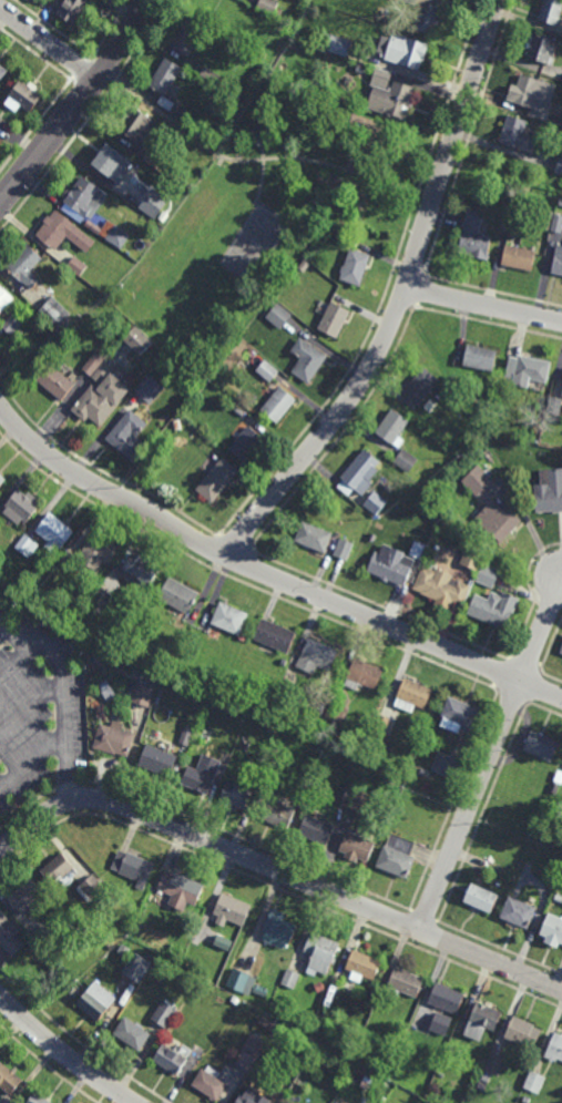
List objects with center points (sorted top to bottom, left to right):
building: (409, 1)
building: (270, 8)
building: (76, 9)
building: (551, 12)
building: (427, 18)
building: (188, 38)
road: (49, 44)
building: (340, 45)
building: (542, 50)
building: (402, 51)
building: (361, 69)
building: (211, 75)
building: (4, 76)
road: (109, 76)
building: (165, 76)
building: (380, 79)
building: (527, 91)
building: (27, 95)
road: (449, 95)
building: (399, 101)
road: (79, 105)
building: (181, 113)
building: (1, 120)
building: (137, 127)
building: (519, 134)
building: (259, 136)
road: (256, 159)
building: (152, 161)
building: (111, 164)
building: (559, 166)
park: (508, 167)
road: (263, 174)
park: (257, 190)
road: (427, 193)
building: (84, 197)
building: (560, 202)
building: (154, 204)
building: (549, 215)
building: (558, 224)
building: (546, 225)
building: (62, 233)
building: (117, 237)
building: (474, 237)
building: (346, 241)
park: (254, 244)
building: (519, 258)
building: (558, 263)
building: (23, 265)
building: (76, 267)
building: (356, 267)
road: (402, 299)
road: (484, 305)
building: (8, 313)
building: (54, 315)
building: (279, 316)
building: (334, 321)
building: (137, 343)
building: (252, 354)
building: (480, 358)
building: (307, 360)
building: (94, 364)
building: (167, 369)
building: (527, 370)
building: (267, 371)
building: (54, 381)
building: (420, 385)
building: (150, 388)
building: (101, 399)
building: (474, 400)
building: (278, 404)
building: (553, 405)
building: (239, 411)
building: (392, 428)
building: (127, 433)
building: (198, 438)
building: (246, 443)
building: (405, 460)
building: (359, 473)
building: (2, 478)
building: (216, 479)
building: (478, 479)
building: (549, 490)
building: (376, 502)
building: (21, 505)
building: (495, 519)
building: (428, 528)
building: (54, 531)
building: (314, 537)
building: (25, 547)
building: (344, 549)
building: (98, 551)
building: (419, 551)
building: (472, 558)
building: (69, 562)
building: (391, 564)
building: (139, 569)
building: (489, 572)
road: (266, 575)
building: (440, 585)
building: (84, 593)
building: (178, 595)
building: (99, 600)
building: (493, 609)
building: (231, 619)
building: (275, 635)
building: (561, 651)
road: (14, 656)
building: (175, 656)
building: (316, 656)
building: (366, 674)
building: (110, 694)
building: (143, 694)
building: (412, 695)
road: (63, 696)
road: (30, 705)
building: (319, 708)
building: (337, 713)
building: (458, 715)
building: (381, 725)
building: (273, 731)
building: (187, 734)
building: (206, 736)
building: (113, 739)
building: (378, 739)
building: (541, 745)
road: (489, 756)
road: (31, 759)
building: (157, 760)
building: (443, 765)
building: (425, 773)
building: (202, 775)
building: (558, 780)
building: (236, 796)
building: (351, 799)
building: (276, 813)
building: (316, 830)
building: (356, 846)
building: (396, 862)
building: (133, 868)
building: (57, 869)
road: (278, 871)
building: (538, 872)
building: (92, 887)
building: (180, 889)
building: (25, 896)
building: (559, 898)
building: (480, 899)
building: (231, 909)
building: (518, 915)
building: (277, 929)
building: (553, 930)
building: (9, 936)
building: (47, 938)
building: (223, 942)
building: (33, 944)
building: (123, 951)
building: (320, 953)
building: (139, 967)
building: (362, 967)
building: (55, 973)
building: (290, 979)
building: (237, 980)
building: (405, 983)
building: (446, 999)
building: (235, 1000)
building: (96, 1002)
building: (283, 1004)
building: (163, 1013)
building: (483, 1021)
building: (264, 1022)
building: (440, 1024)
building: (132, 1034)
building: (523, 1034)
building: (555, 1049)
building: (251, 1051)
road: (63, 1054)
building: (171, 1060)
building: (489, 1071)
building: (10, 1081)
building: (210, 1084)
building: (535, 1084)
building: (284, 1089)
building: (376, 1094)
building: (38, 1100)
building: (245, 1100)
building: (528, 1101)

